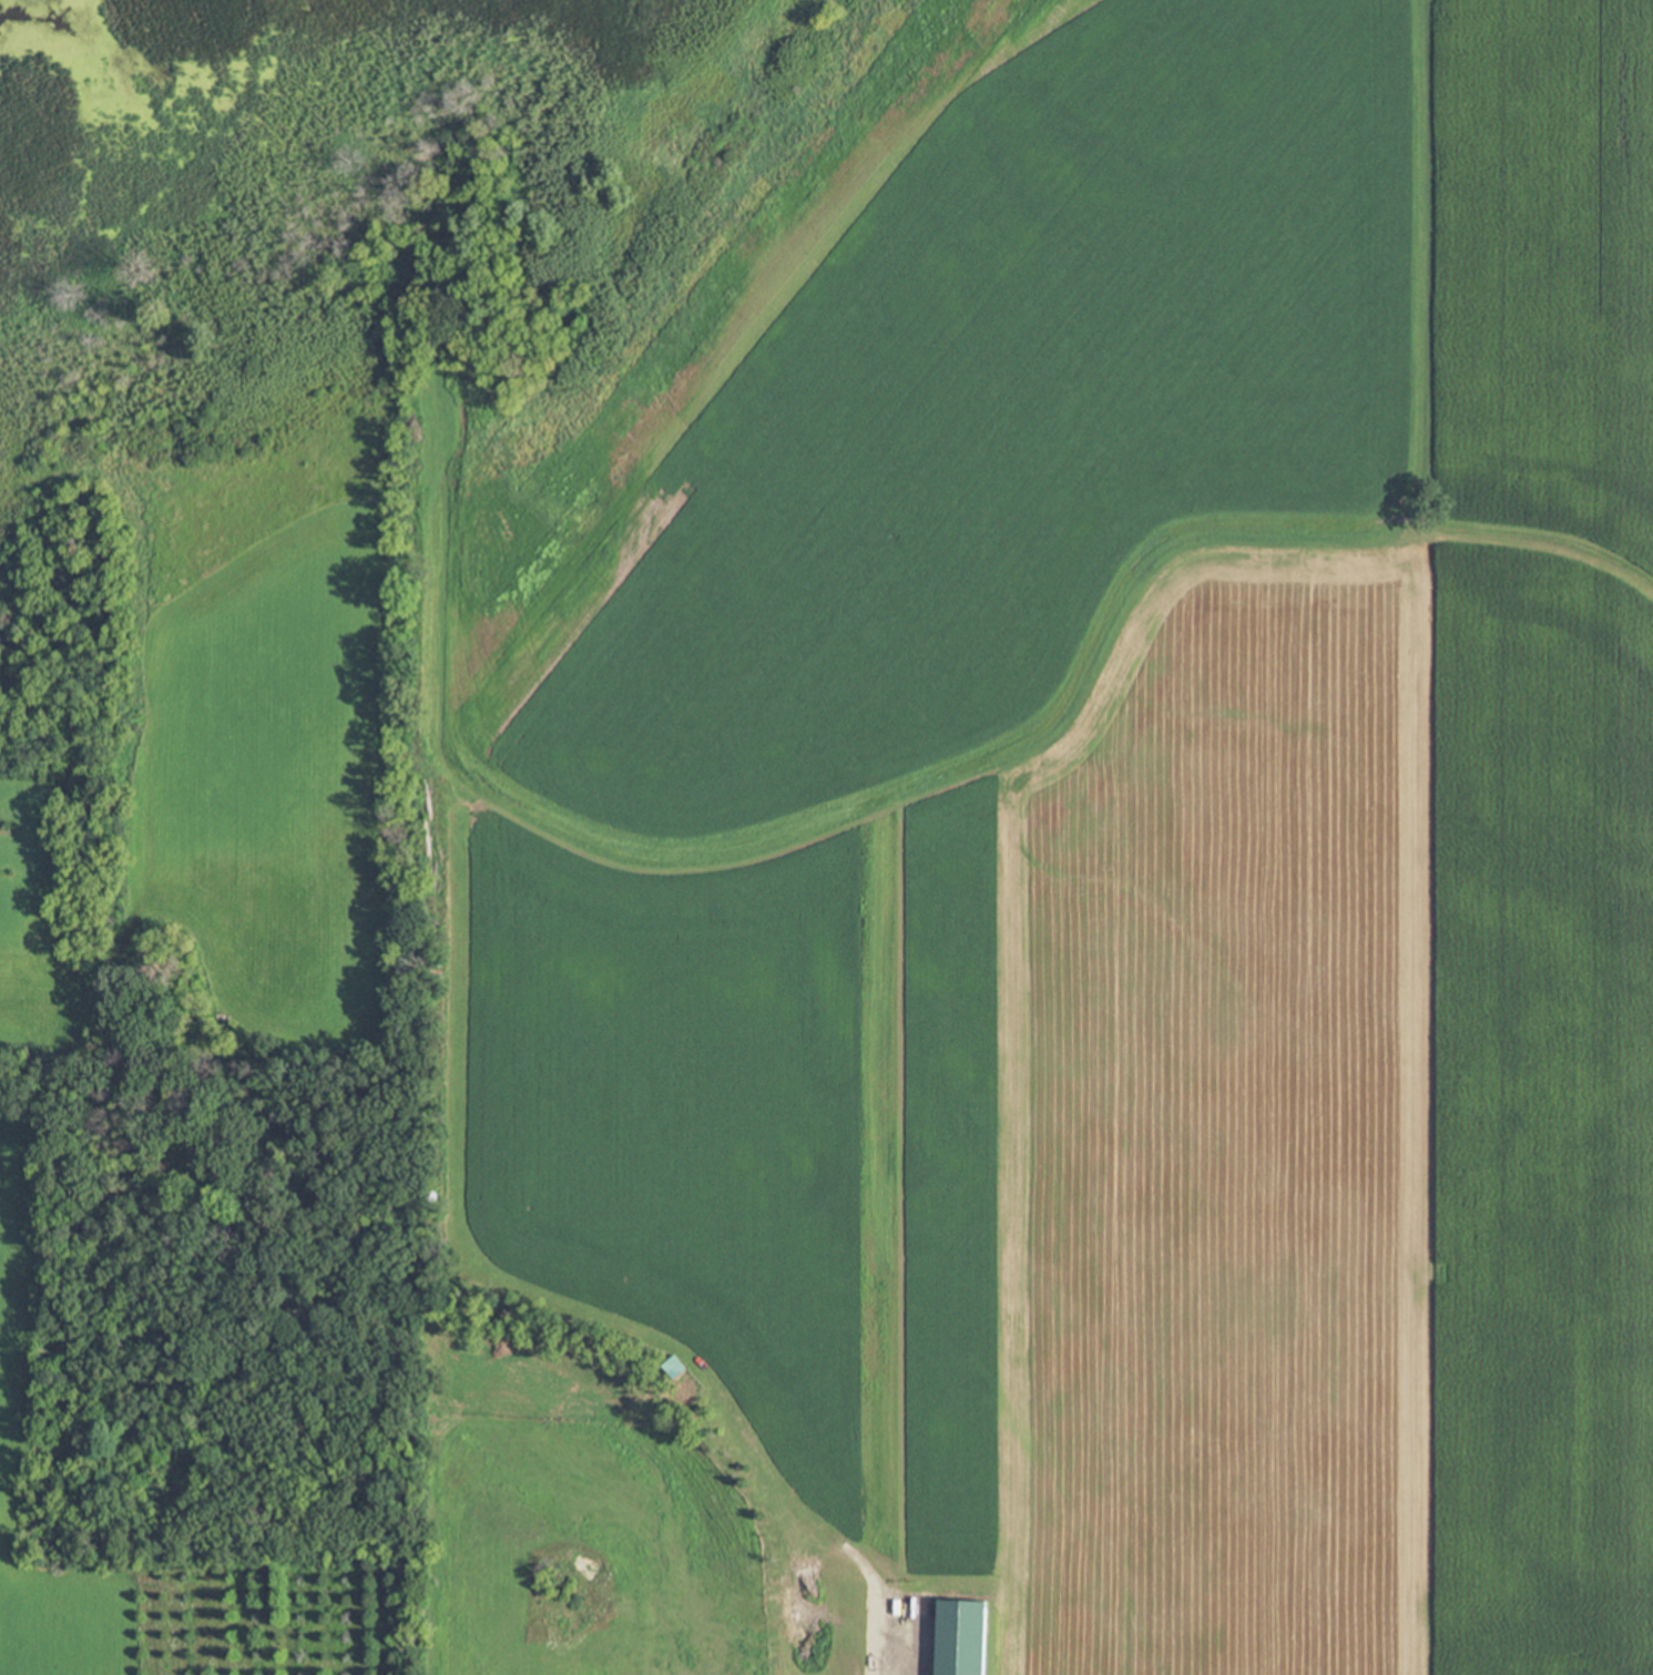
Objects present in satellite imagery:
building: (857, 1608)

